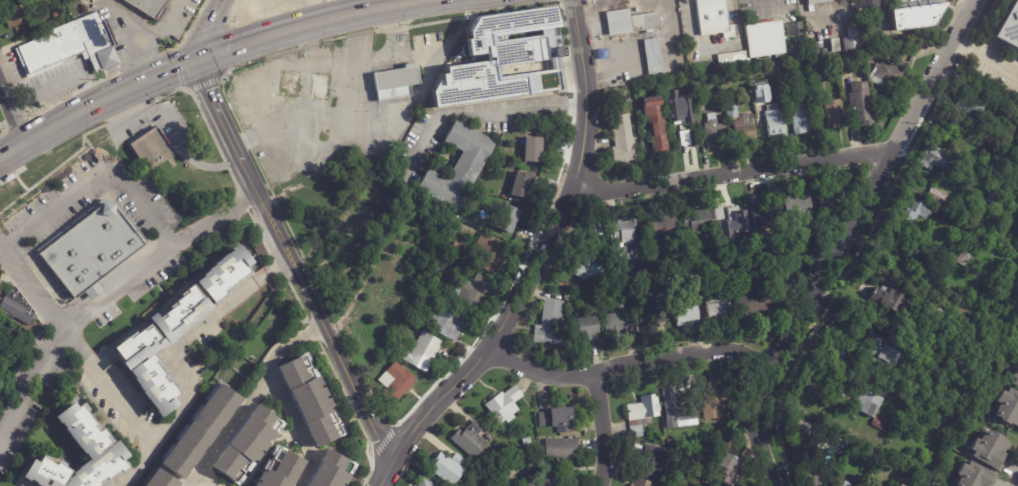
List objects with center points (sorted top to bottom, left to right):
building: (280, 1)
road: (763, 1)
building: (815, 1)
building: (869, 3)
road: (348, 5)
building: (148, 7)
building: (58, 10)
road: (884, 12)
road: (812, 15)
building: (17, 16)
building: (914, 16)
building: (715, 18)
building: (631, 22)
road: (121, 25)
road: (207, 25)
building: (1008, 26)
road: (150, 37)
building: (597, 37)
road: (673, 37)
building: (850, 38)
building: (765, 39)
building: (867, 40)
building: (831, 45)
building: (71, 47)
road: (713, 48)
building: (811, 49)
building: (600, 54)
traffic signals: (198, 55)
building: (650, 56)
road: (188, 58)
building: (731, 61)
building: (510, 62)
road: (651, 64)
building: (844, 67)
building: (814, 68)
road: (614, 71)
building: (886, 75)
building: (291, 82)
building: (396, 83)
building: (320, 84)
building: (785, 85)
building: (760, 96)
building: (860, 102)
building: (699, 104)
building: (729, 105)
building: (668, 107)
building: (968, 109)
road: (381, 111)
road: (477, 112)
building: (834, 113)
road: (12, 115)
building: (802, 117)
road: (221, 122)
building: (774, 123)
building: (655, 124)
building: (742, 127)
building: (713, 134)
building: (685, 137)
road: (175, 139)
building: (622, 140)
building: (383, 147)
building: (153, 148)
building: (535, 150)
building: (937, 158)
building: (460, 168)
road: (734, 172)
road: (98, 174)
building: (524, 185)
building: (937, 196)
building: (993, 197)
building: (829, 200)
building: (796, 205)
building: (761, 214)
building: (912, 214)
building: (726, 216)
building: (510, 219)
building: (697, 219)
building: (661, 225)
building: (383, 226)
building: (595, 227)
building: (623, 227)
building: (352, 232)
building: (959, 236)
building: (790, 237)
road: (846, 239)
building: (455, 241)
building: (458, 246)
building: (388, 249)
building: (93, 251)
road: (543, 252)
building: (493, 254)
building: (585, 256)
building: (962, 258)
building: (443, 266)
building: (404, 270)
building: (772, 273)
building: (420, 277)
road: (890, 277)
building: (390, 288)
building: (0, 292)
road: (118, 293)
building: (442, 293)
building: (475, 294)
building: (0, 298)
road: (354, 298)
building: (892, 301)
building: (754, 302)
building: (1017, 302)
building: (715, 306)
building: (19, 307)
building: (683, 314)
building: (647, 318)
building: (617, 319)
building: (452, 322)
building: (549, 322)
road: (322, 323)
building: (582, 327)
building: (178, 330)
building: (951, 330)
road: (191, 335)
building: (993, 340)
building: (881, 351)
building: (426, 352)
building: (389, 359)
road: (630, 362)
building: (960, 366)
building: (1014, 374)
building: (398, 381)
road: (114, 385)
road: (32, 388)
road: (283, 395)
building: (718, 397)
building: (315, 401)
building: (867, 401)
building: (507, 404)
building: (1005, 405)
building: (640, 412)
building: (679, 412)
building: (915, 414)
building: (561, 418)
building: (883, 424)
road: (230, 429)
road: (604, 429)
building: (201, 430)
building: (800, 432)
building: (536, 435)
building: (491, 436)
building: (471, 440)
building: (671, 442)
building: (248, 444)
building: (563, 447)
building: (988, 448)
building: (104, 449)
building: (459, 458)
building: (652, 461)
road: (141, 465)
building: (718, 465)
building: (448, 468)
building: (281, 469)
building: (332, 473)
road: (382, 474)
building: (811, 474)
building: (972, 475)
road: (1014, 476)
building: (554, 478)
building: (161, 480)
building: (639, 482)
building: (426, 483)
building: (845, 483)
building: (534, 484)
building: (834, 484)
building: (711, 485)
building: (897, 485)

